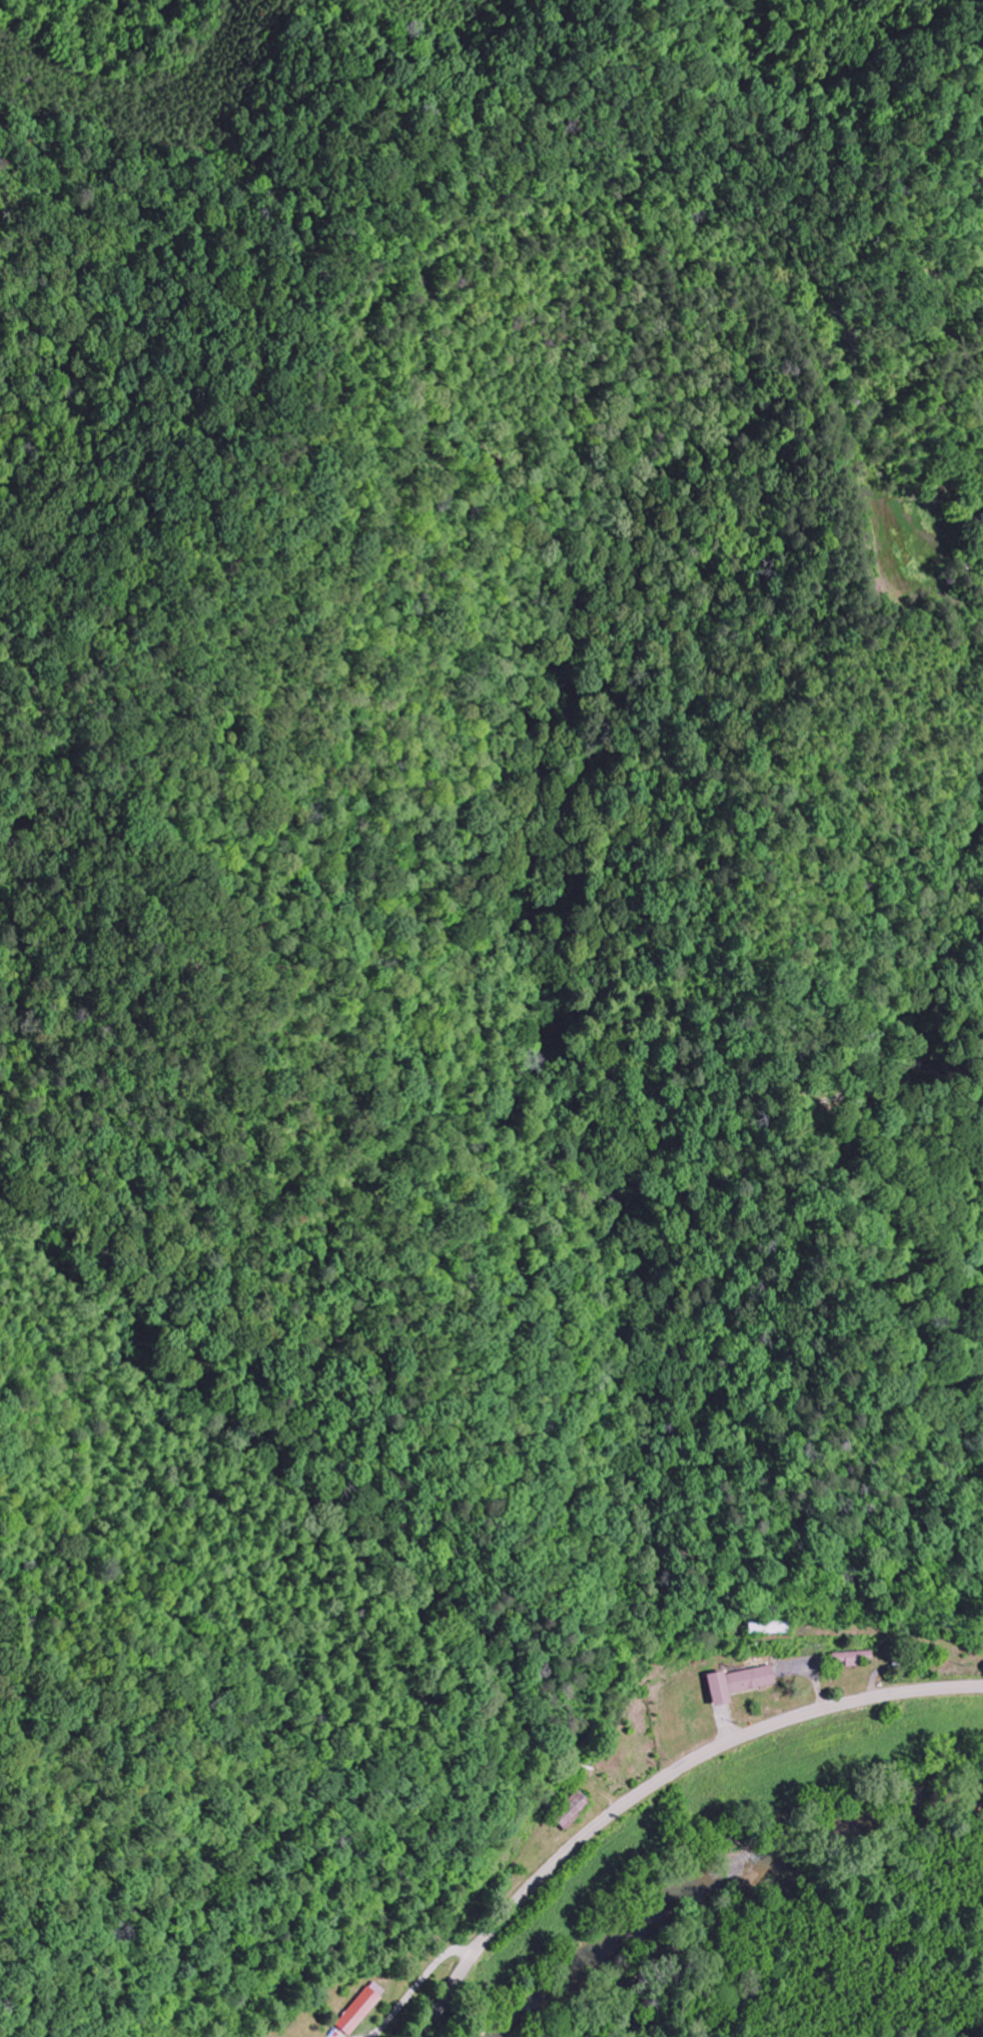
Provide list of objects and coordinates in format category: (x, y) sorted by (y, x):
building: (740, 1682)
road: (656, 1785)
building: (359, 2006)

